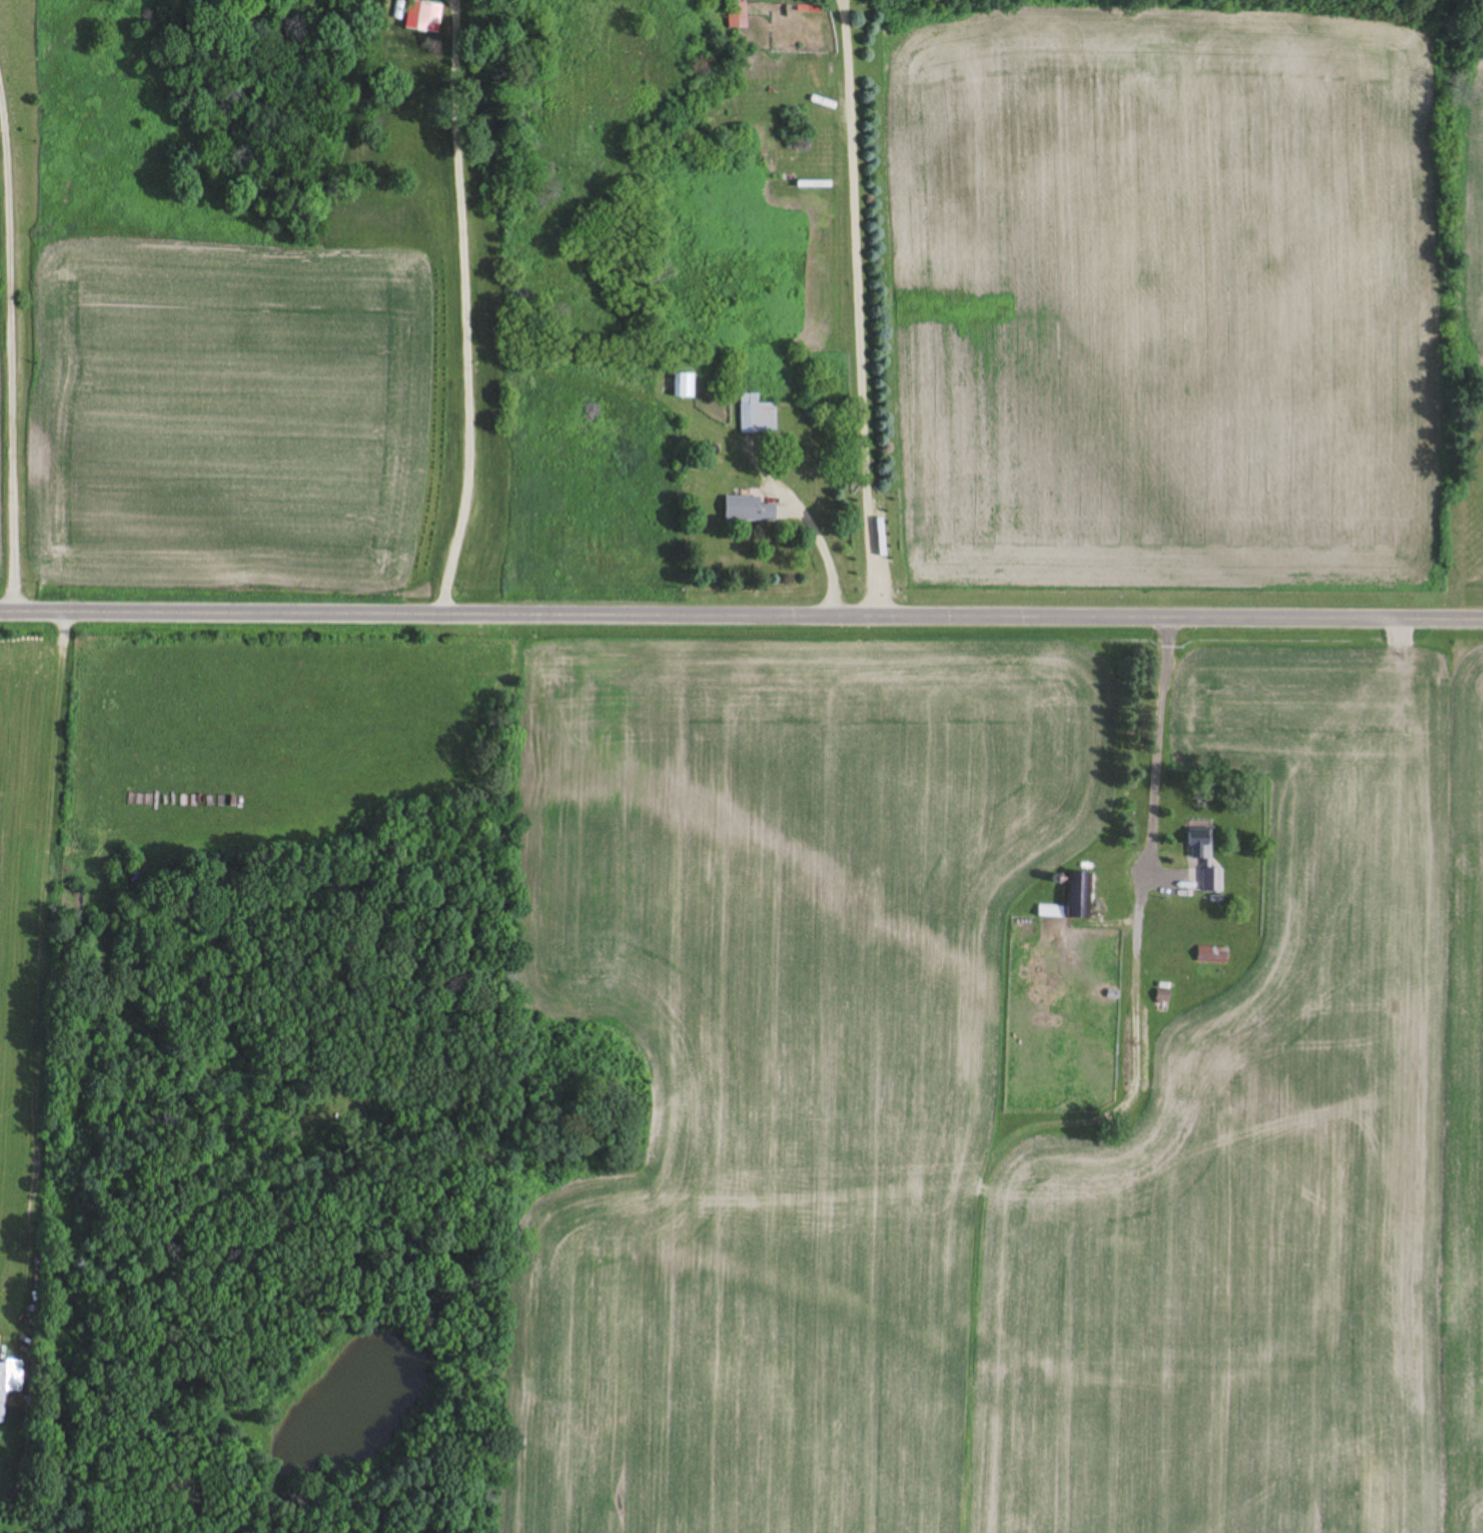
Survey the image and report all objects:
building: (804, 9)
building: (738, 16)
building: (424, 17)
road: (859, 310)
building: (689, 388)
building: (757, 416)
building: (748, 509)
road: (741, 620)
building: (1200, 846)
building: (1210, 881)
building: (1083, 896)
building: (1052, 912)
building: (2, 1392)

